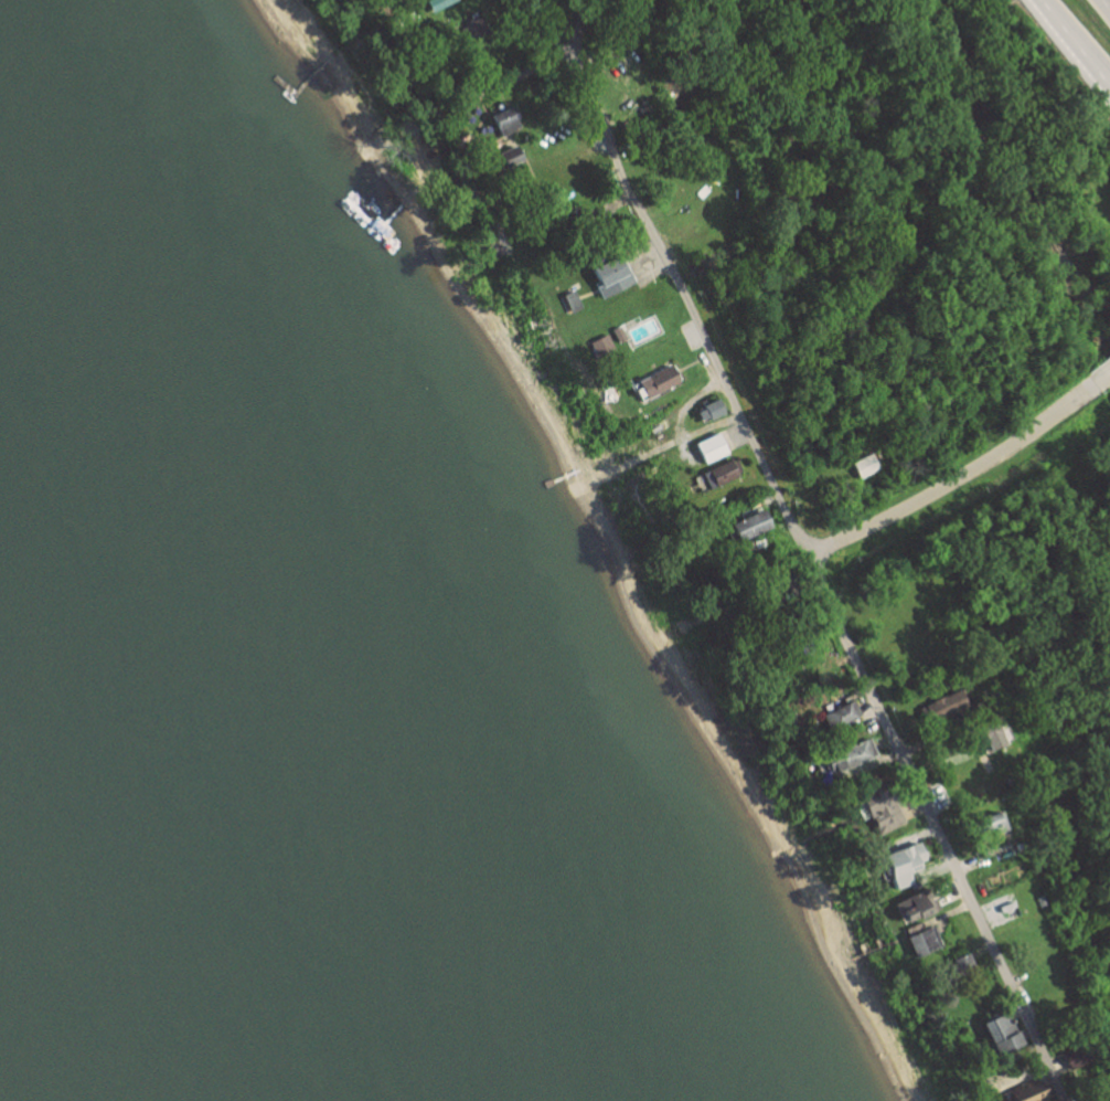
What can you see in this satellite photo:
building: (441, 3)
road: (1106, 4)
building: (477, 27)
road: (1076, 42)
pier: (311, 87)
building: (509, 121)
building: (515, 159)
pier: (388, 214)
building: (615, 276)
building: (602, 346)
road: (1093, 369)
building: (661, 380)
building: (713, 410)
building: (714, 447)
building: (867, 465)
building: (724, 473)
road: (944, 474)
building: (755, 523)
road: (802, 551)
building: (949, 703)
building: (844, 714)
building: (996, 737)
building: (855, 755)
building: (887, 811)
building: (908, 864)
building: (919, 904)
river: (125, 913)
building: (926, 941)
building: (1005, 1034)
building: (1077, 1056)

